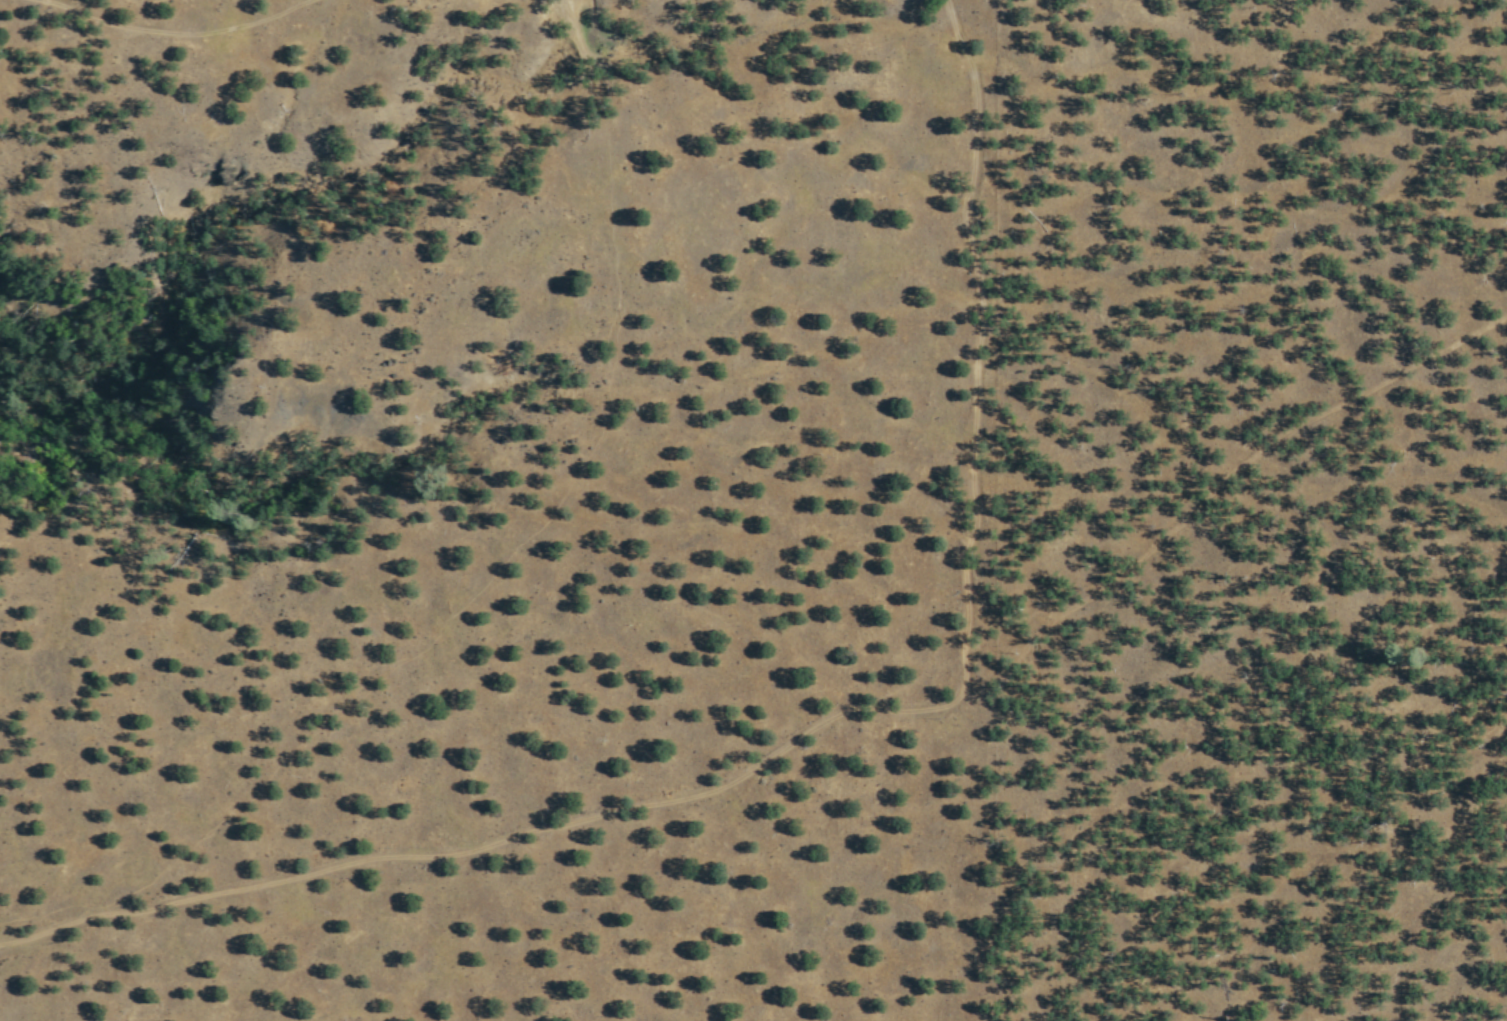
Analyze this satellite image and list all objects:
road: (176, 31)
road: (979, 325)
road: (1225, 474)
road: (506, 836)

